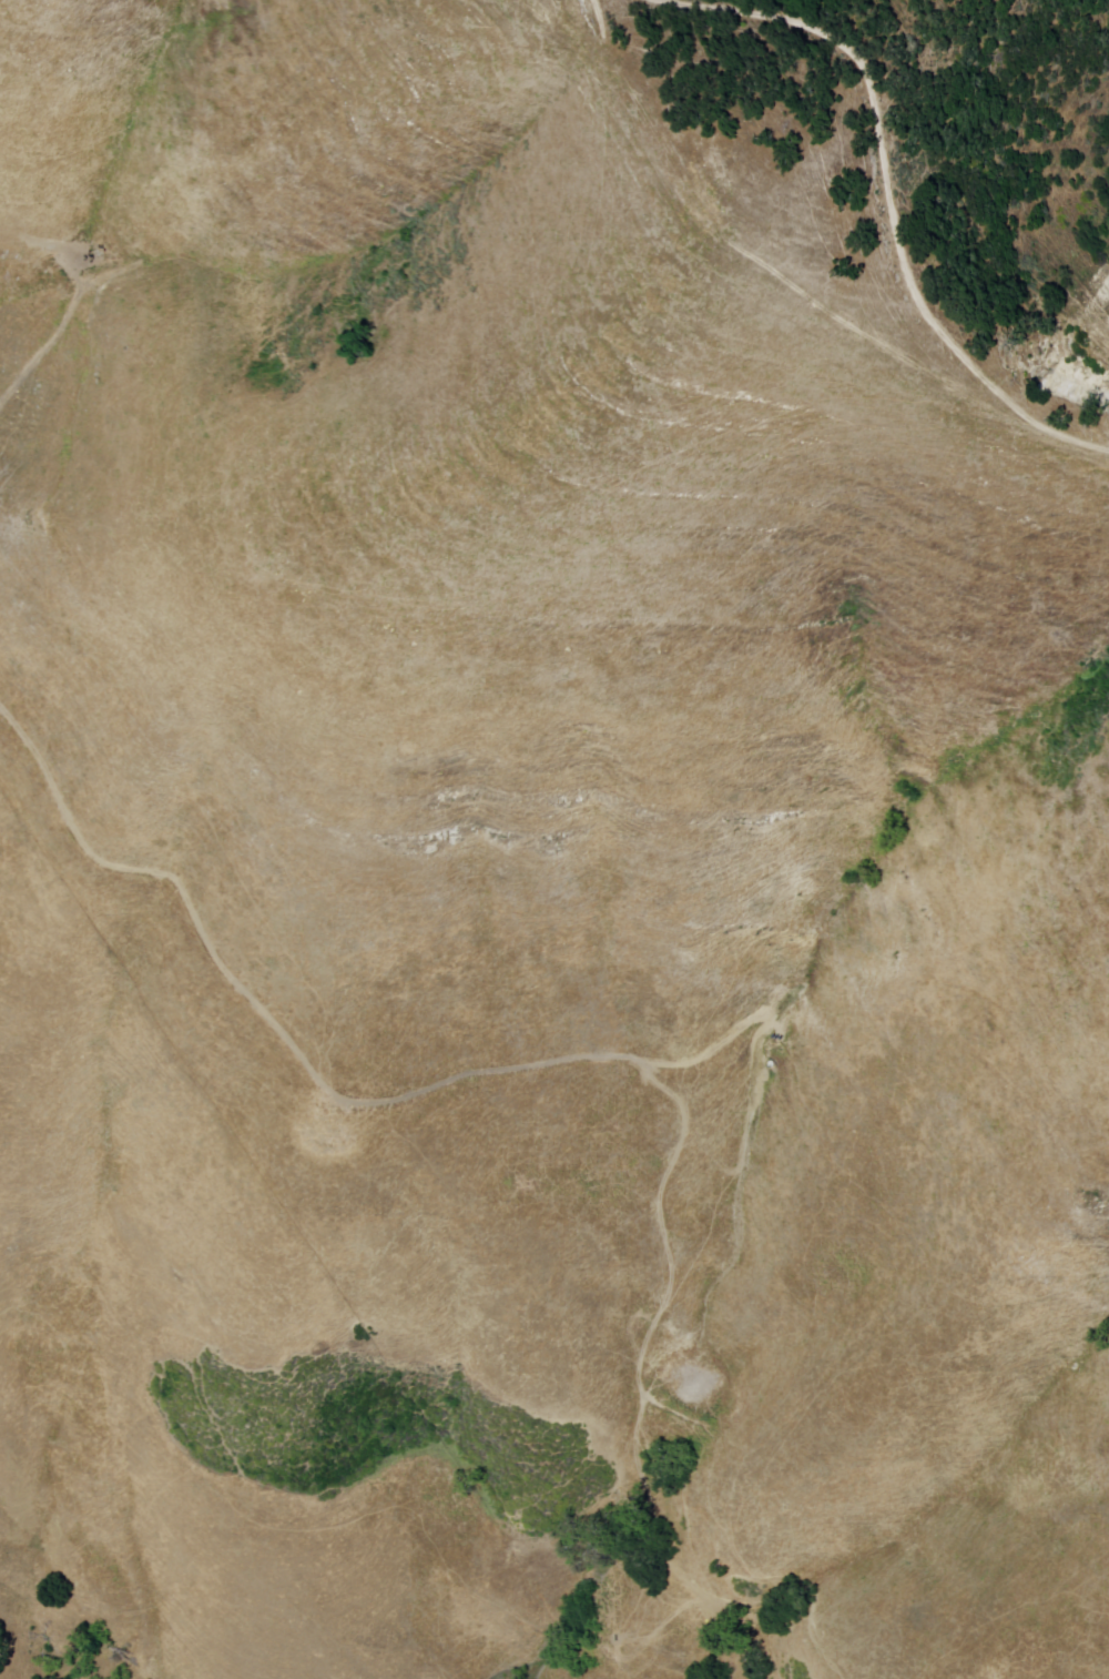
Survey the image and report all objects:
road: (897, 220)

